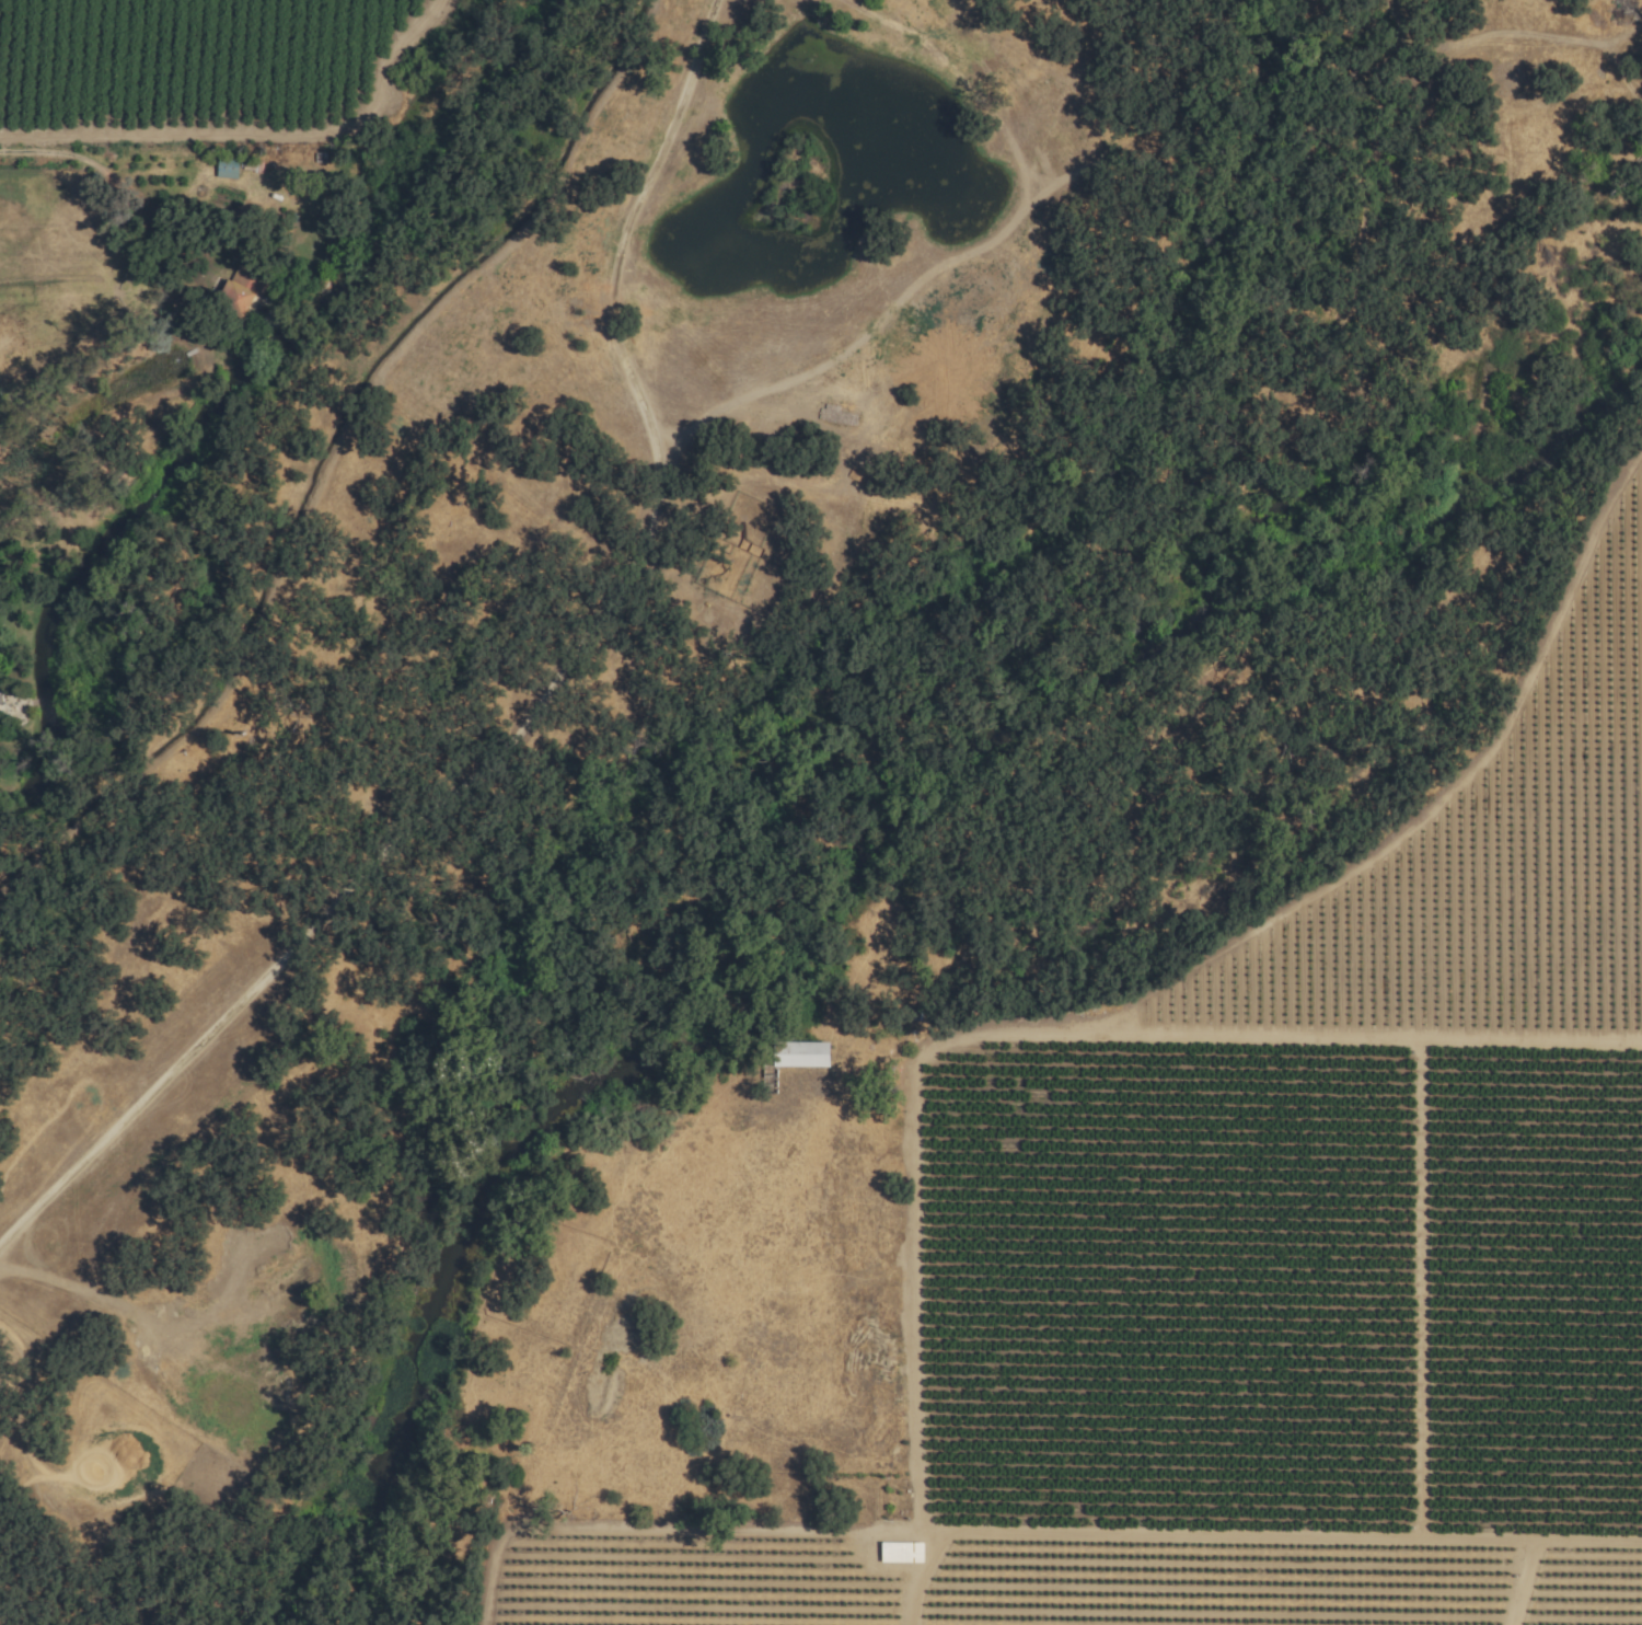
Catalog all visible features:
crop: (199, 65)
road: (26, 151)
building: (226, 168)
road: (172, 270)
crop: (45, 278)
road: (536, 704)
building: (799, 1054)
crop: (1276, 1258)
building: (900, 1552)

